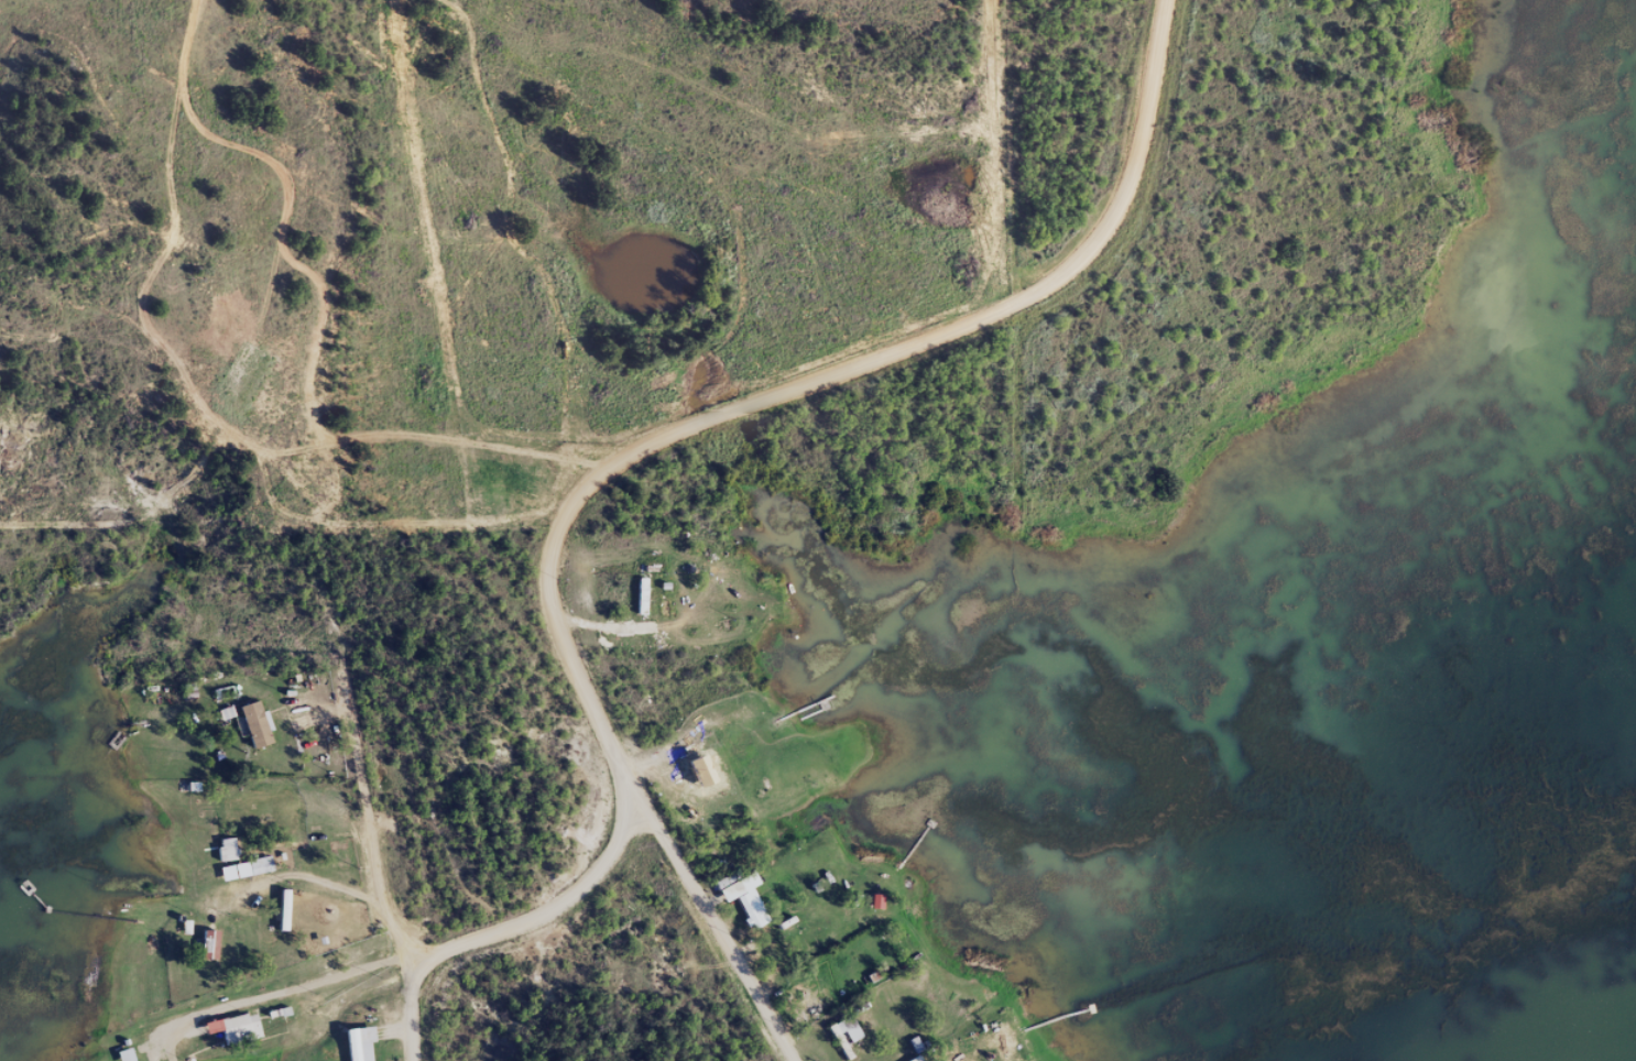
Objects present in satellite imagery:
road: (800, 387)
building: (637, 603)
building: (250, 732)
road: (371, 814)
building: (222, 857)
building: (241, 877)
building: (737, 905)
road: (552, 909)
building: (279, 918)
road: (718, 934)
building: (205, 953)
road: (412, 1011)
building: (229, 1036)
building: (355, 1048)

